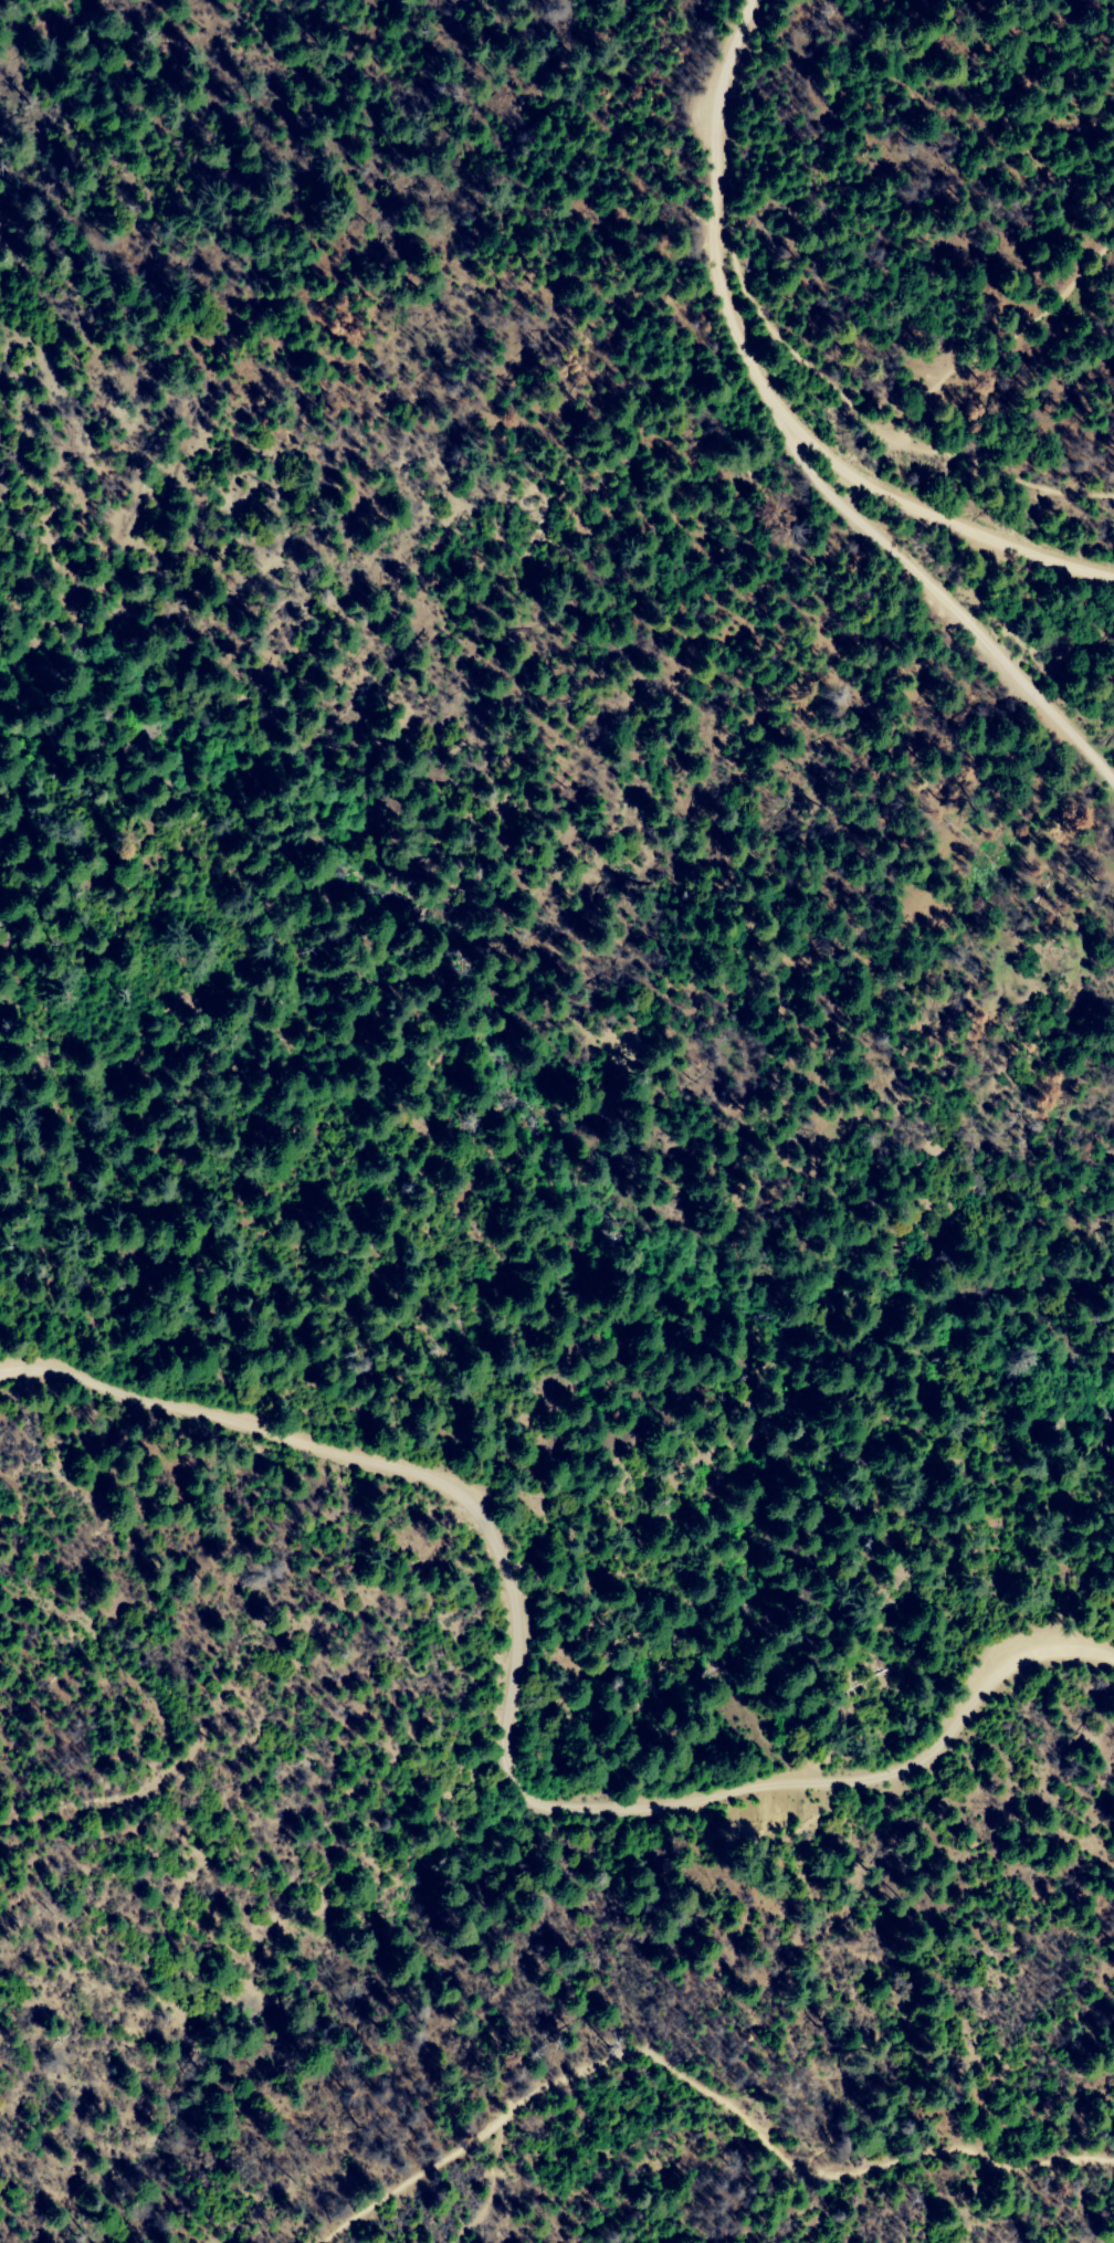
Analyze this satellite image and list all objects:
road: (718, 222)
road: (949, 513)
road: (956, 603)
road: (509, 1721)

